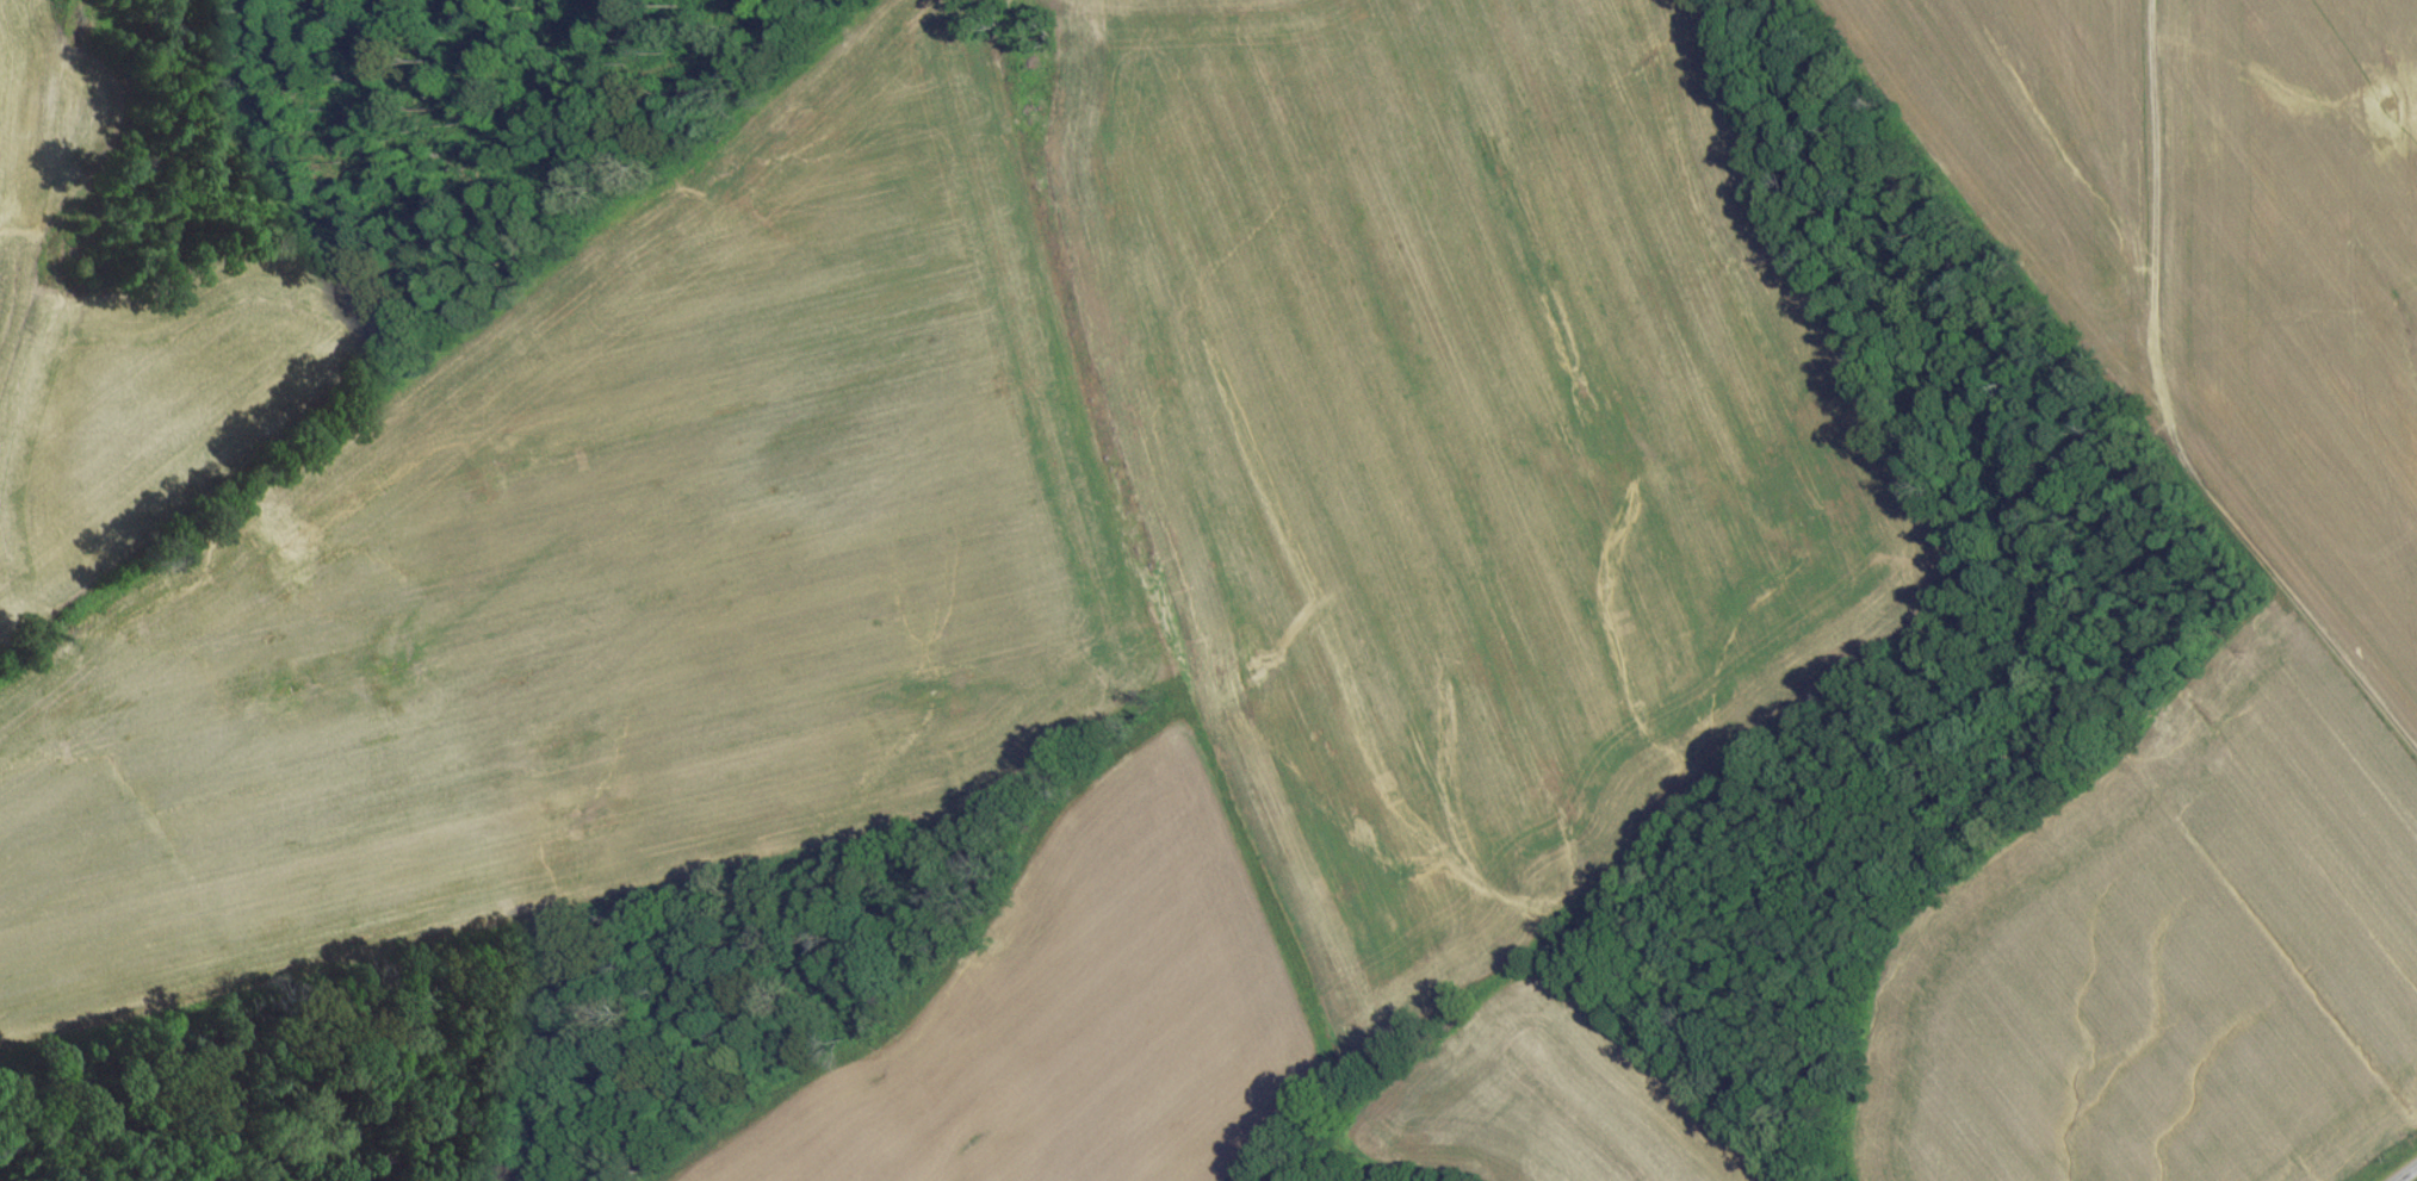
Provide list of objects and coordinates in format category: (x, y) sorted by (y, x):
road: (2400, 1168)

